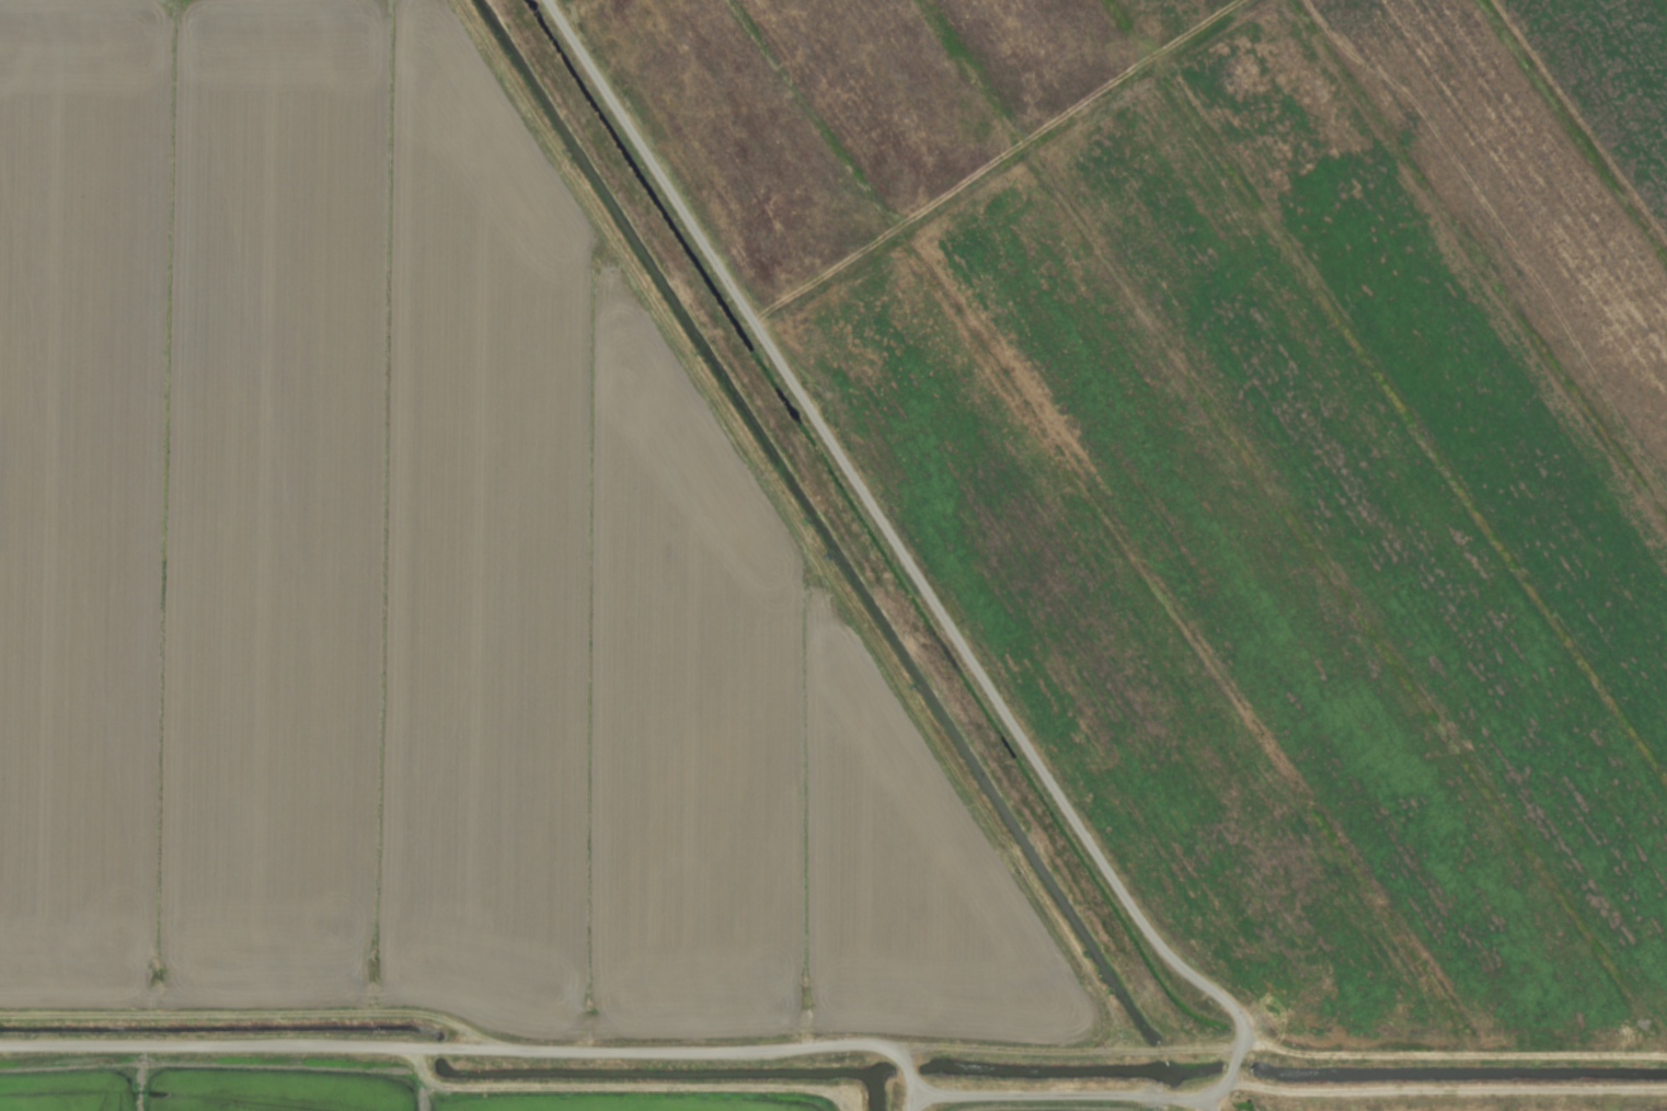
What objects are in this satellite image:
crop: (833, 555)
road: (985, 684)
road: (470, 1053)
road: (915, 1100)

